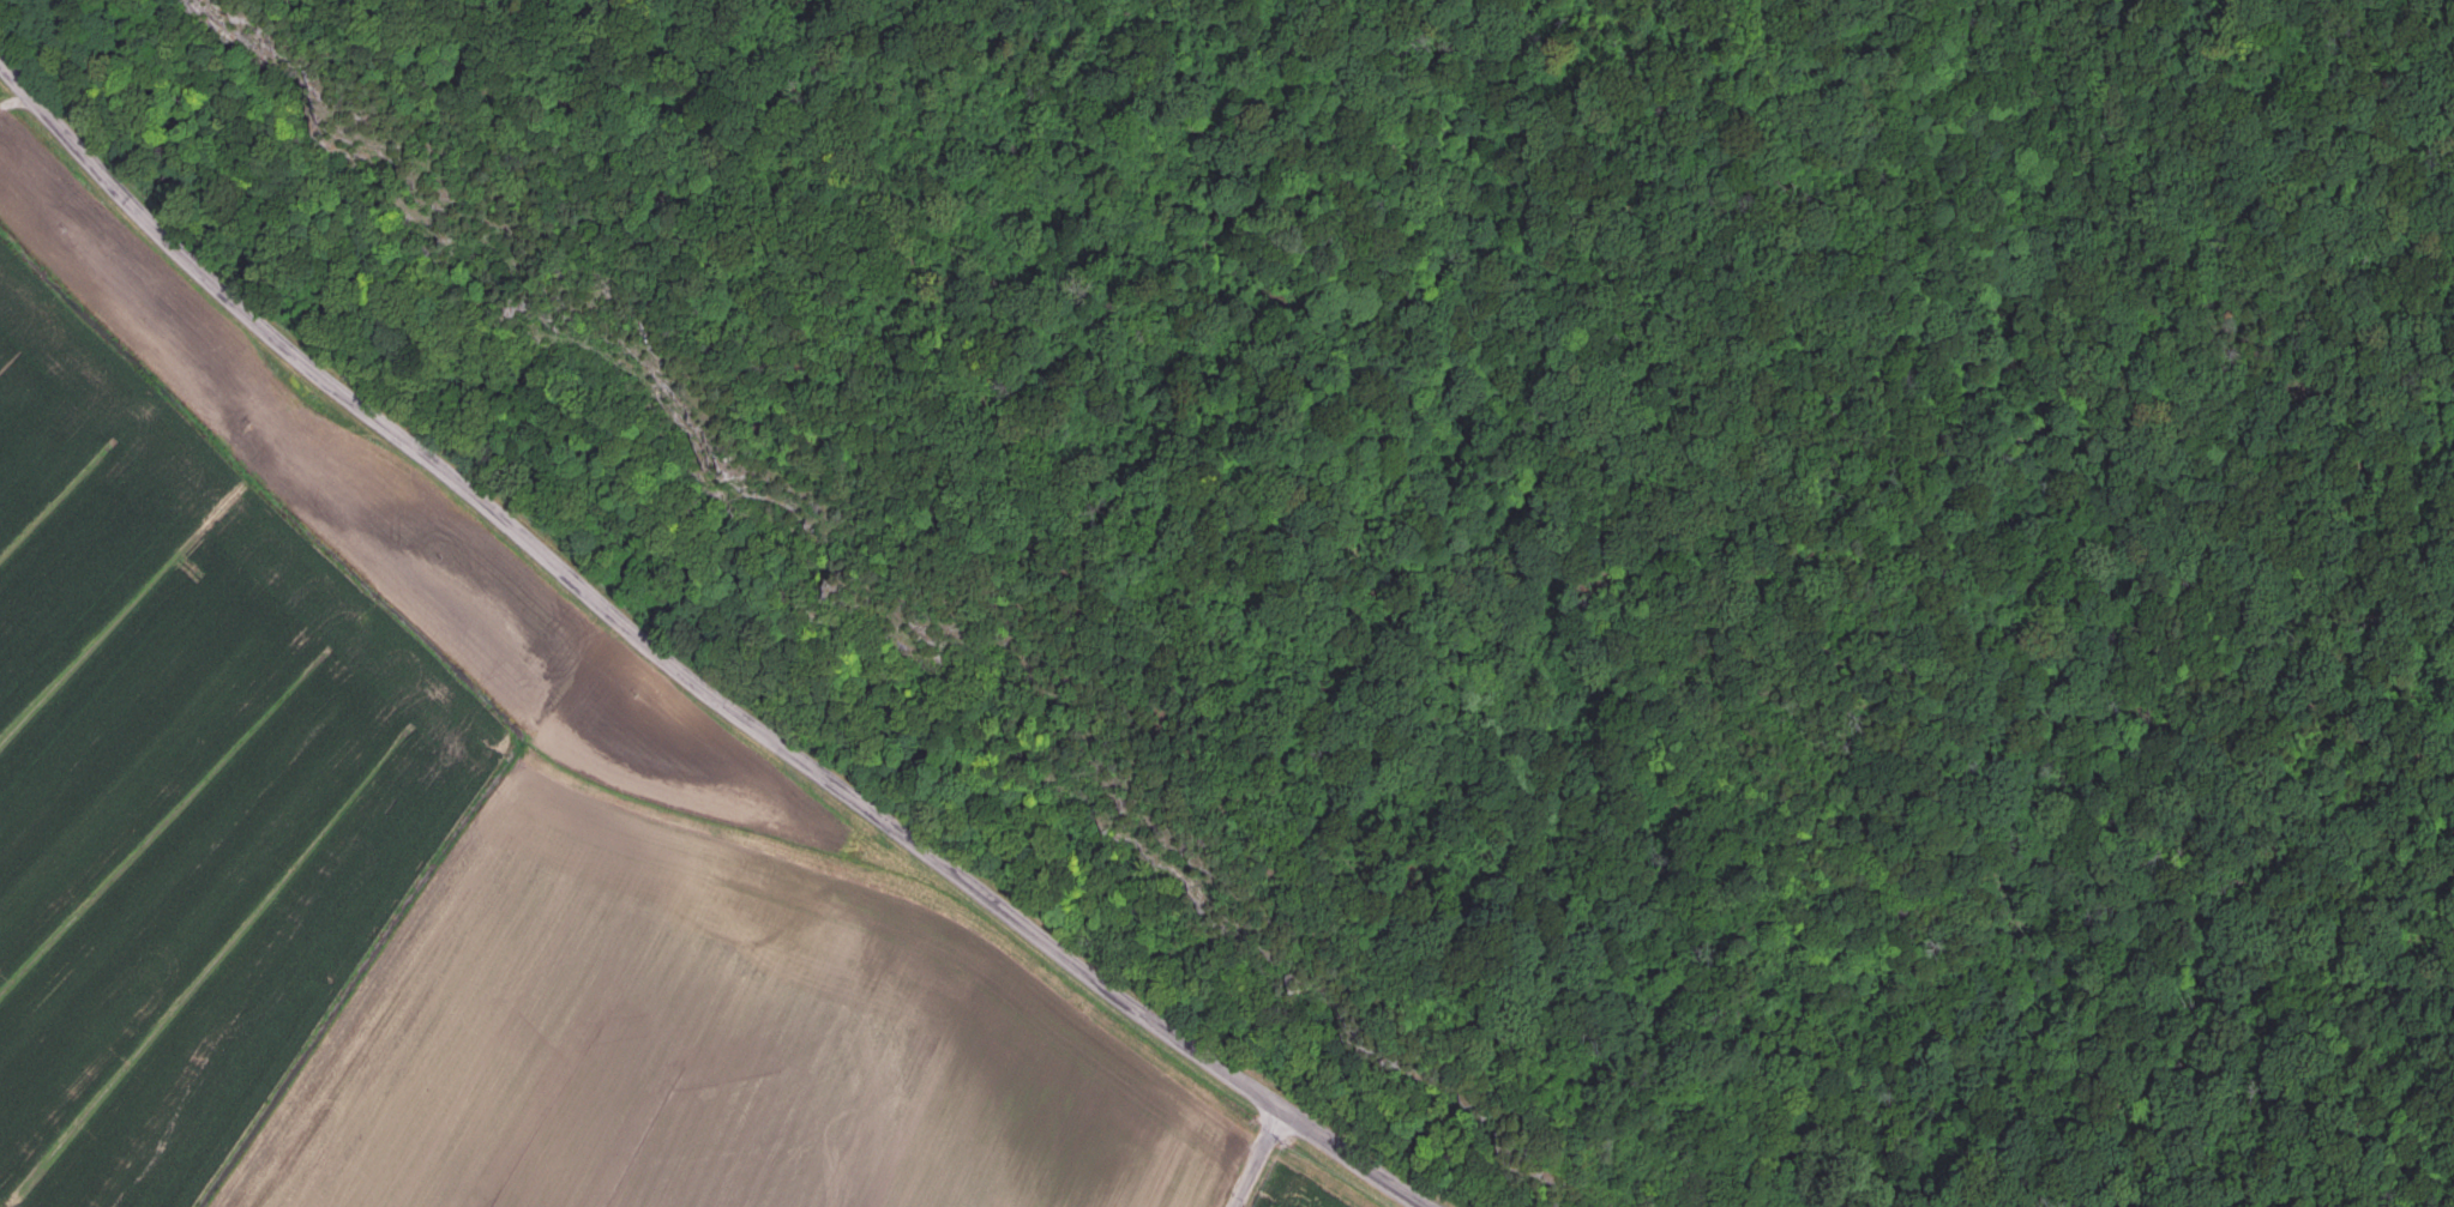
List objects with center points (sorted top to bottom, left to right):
road: (2097, 610)
road: (684, 671)
road: (1256, 1157)

